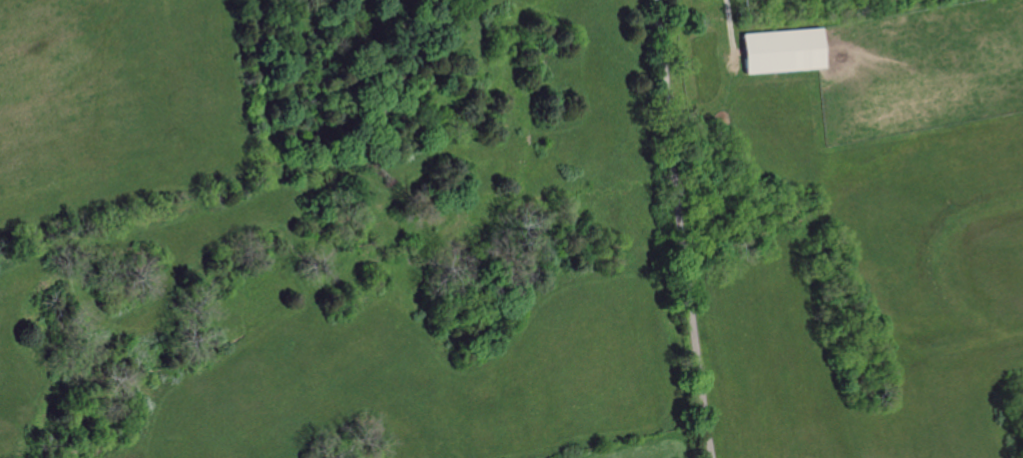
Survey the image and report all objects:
building: (778, 51)
road: (679, 229)

